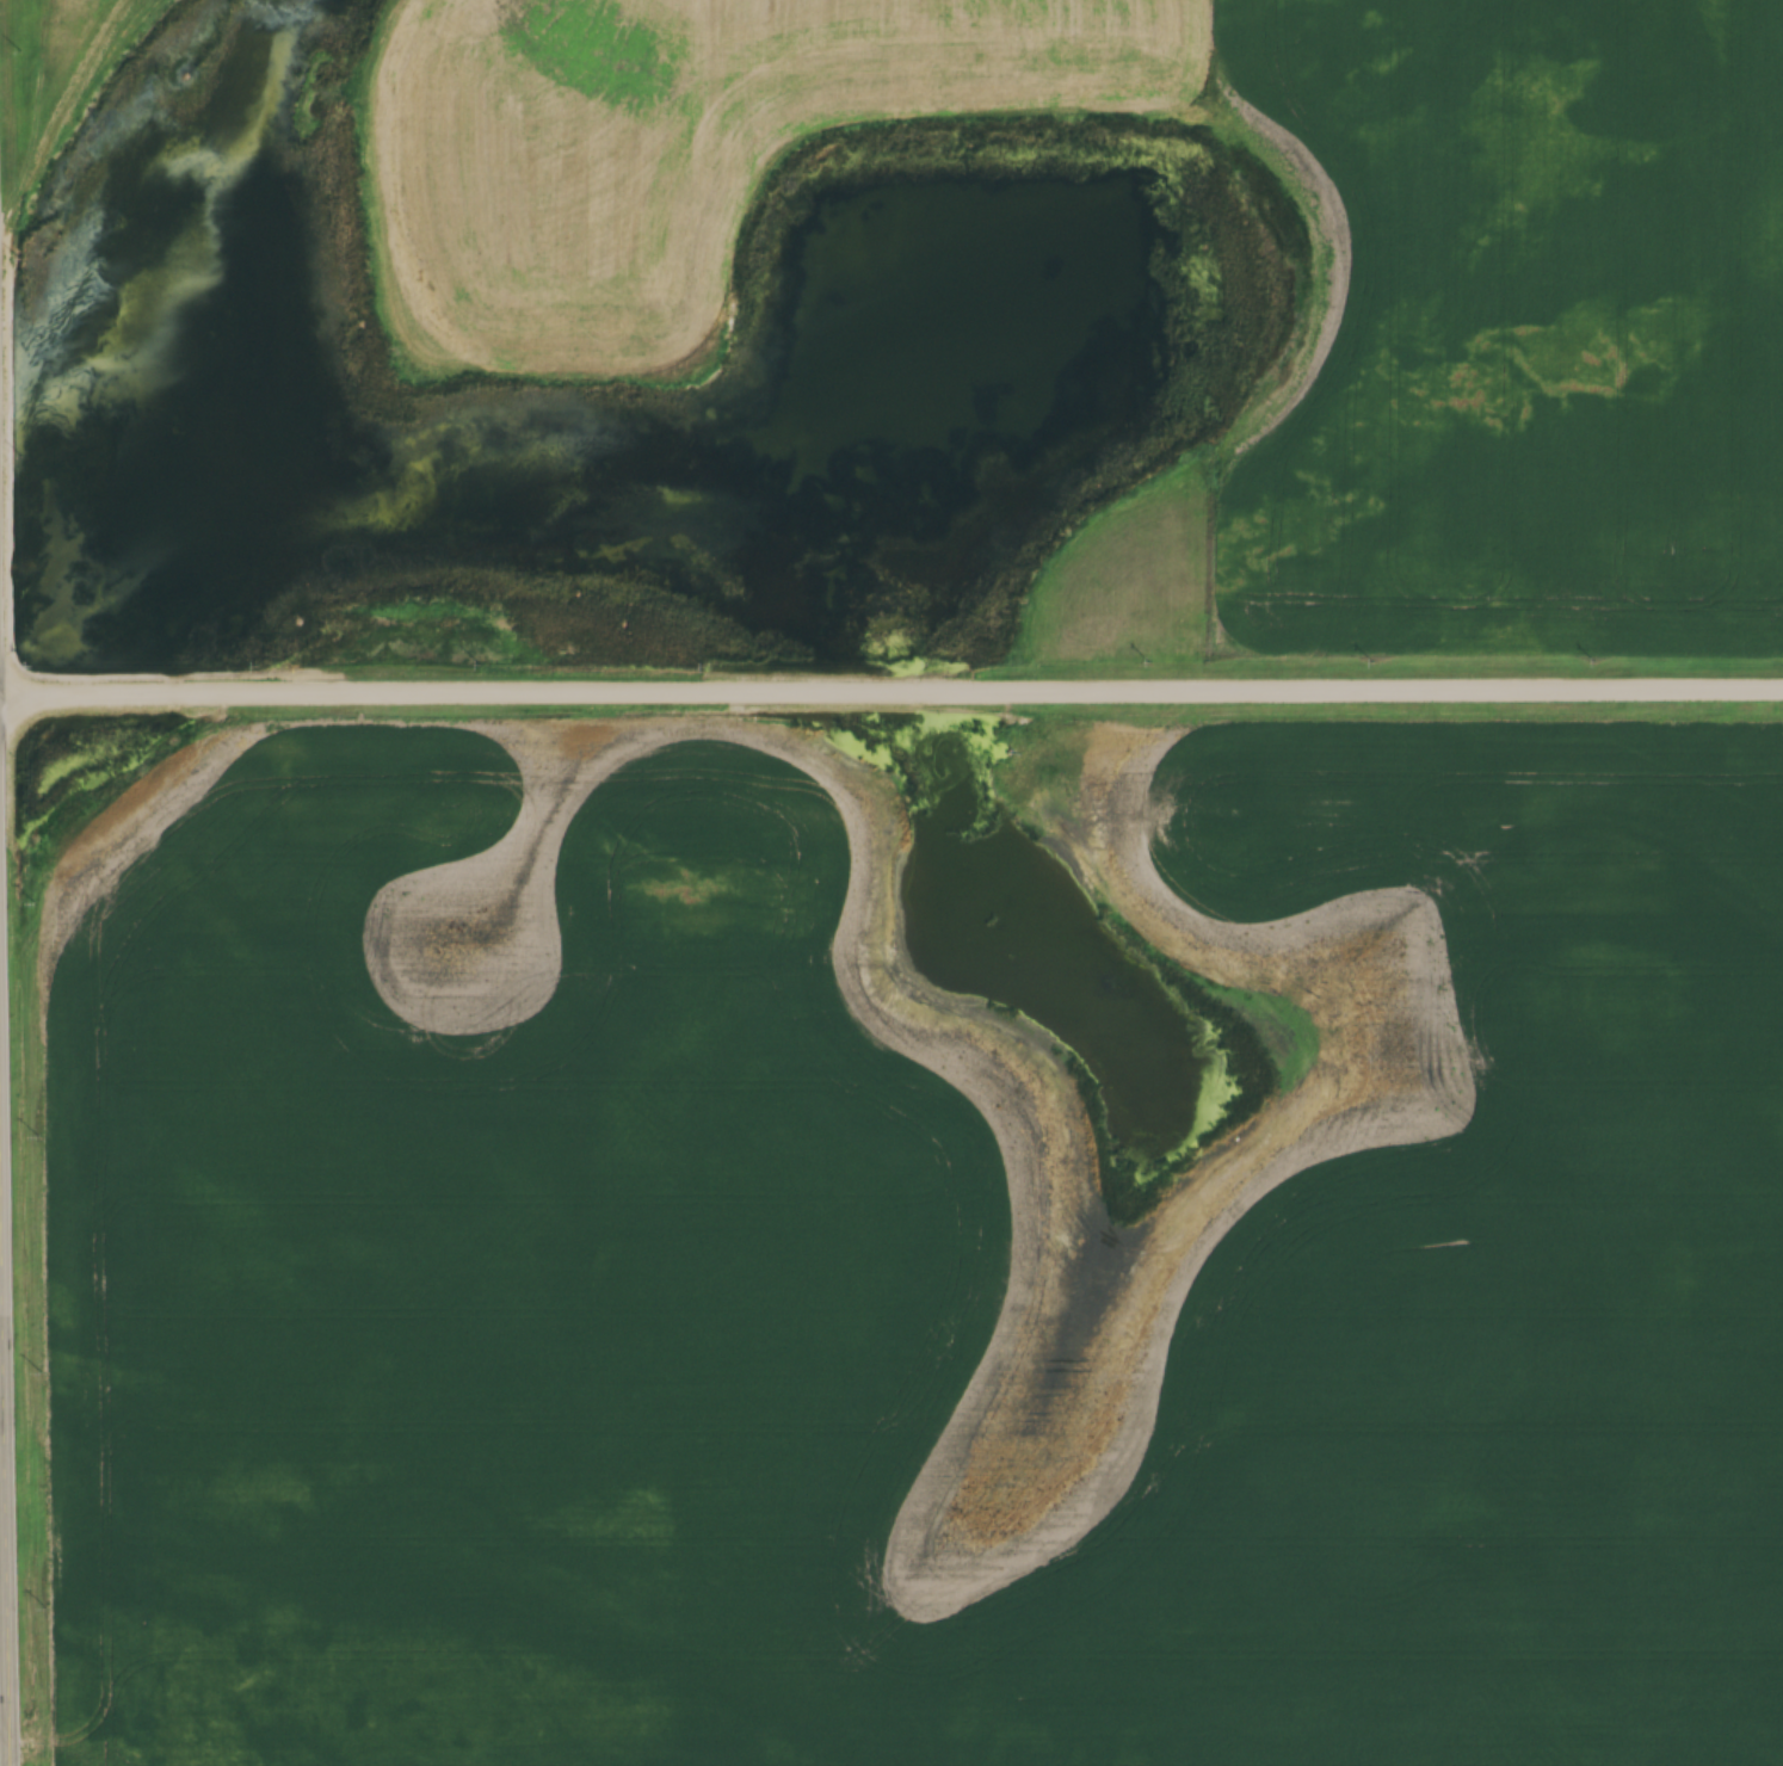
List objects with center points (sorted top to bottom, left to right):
road: (891, 696)
road: (8, 1200)

